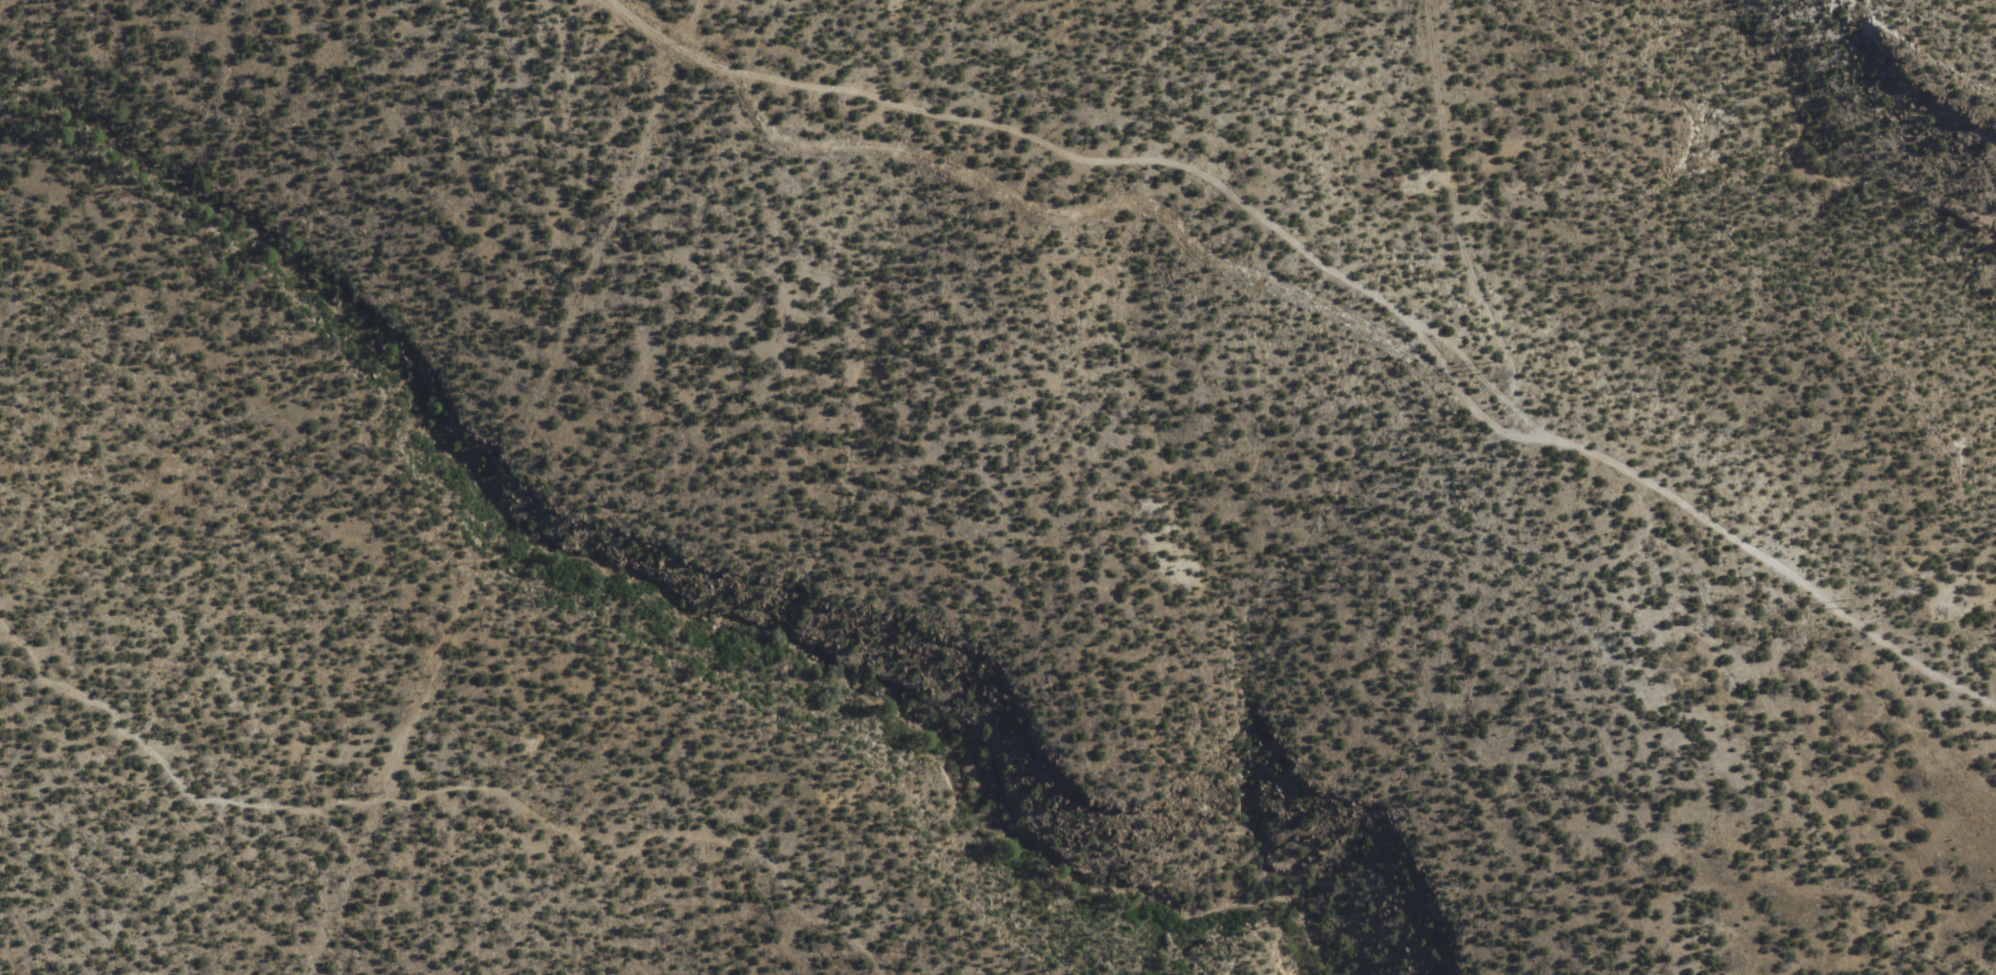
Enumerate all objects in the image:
road: (1835, 185)
road: (1456, 199)
road: (1335, 272)
road: (449, 797)

